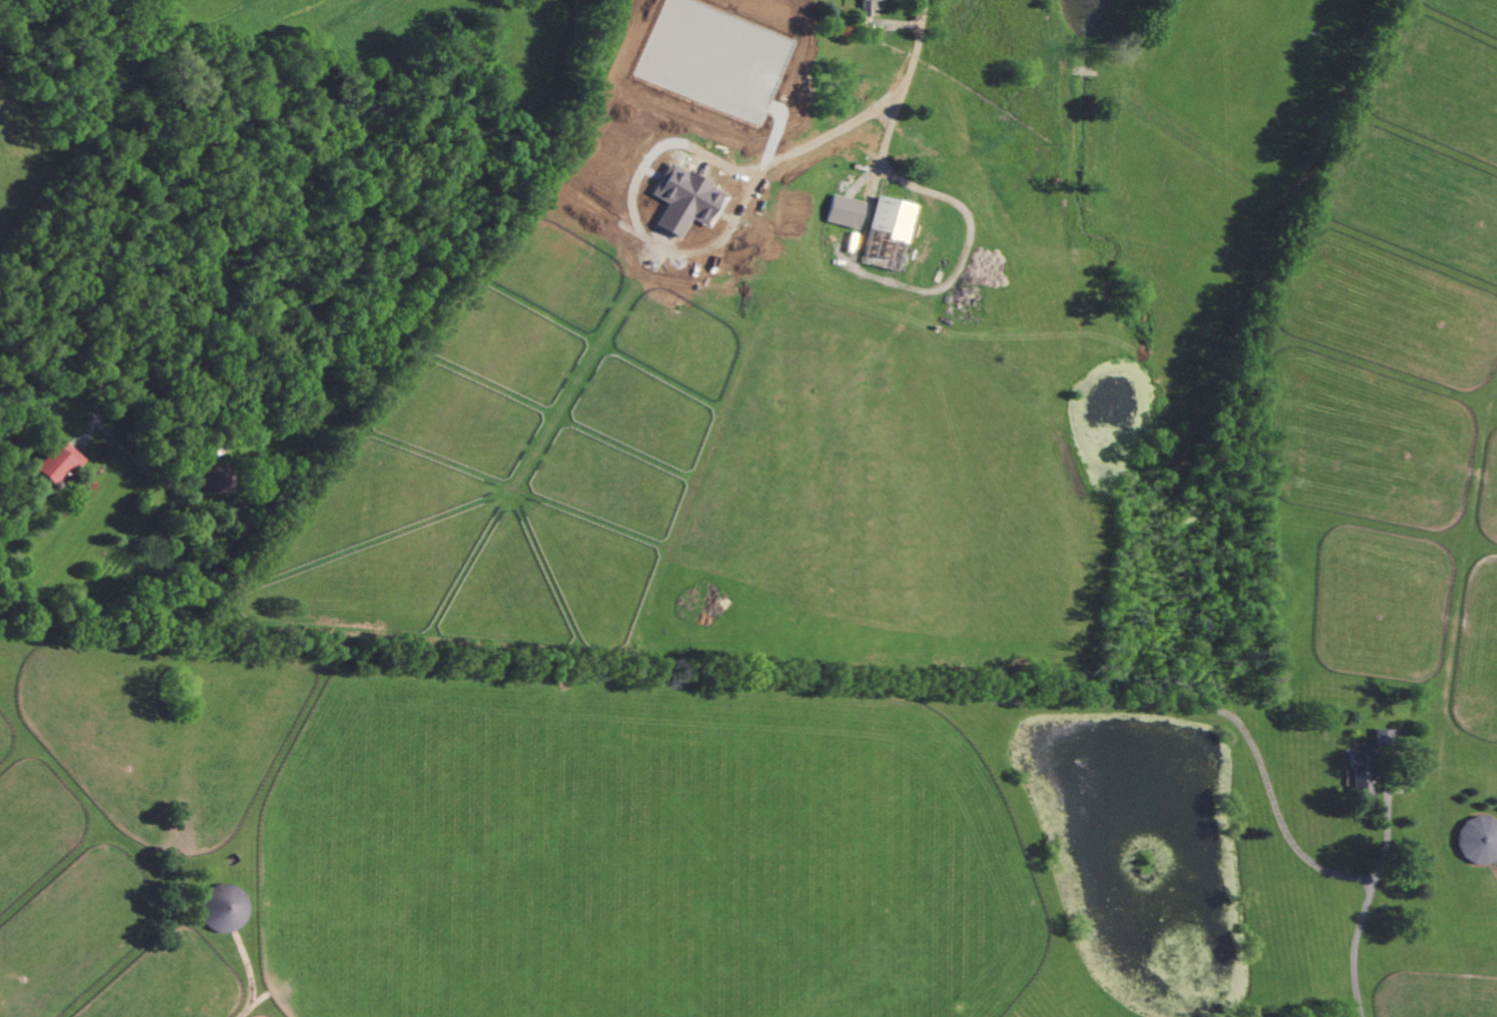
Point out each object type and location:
road: (906, 84)
building: (846, 211)
building: (888, 233)
road: (148, 268)
building: (60, 463)
building: (217, 478)
building: (1385, 737)
building: (1363, 775)
road: (1361, 942)

